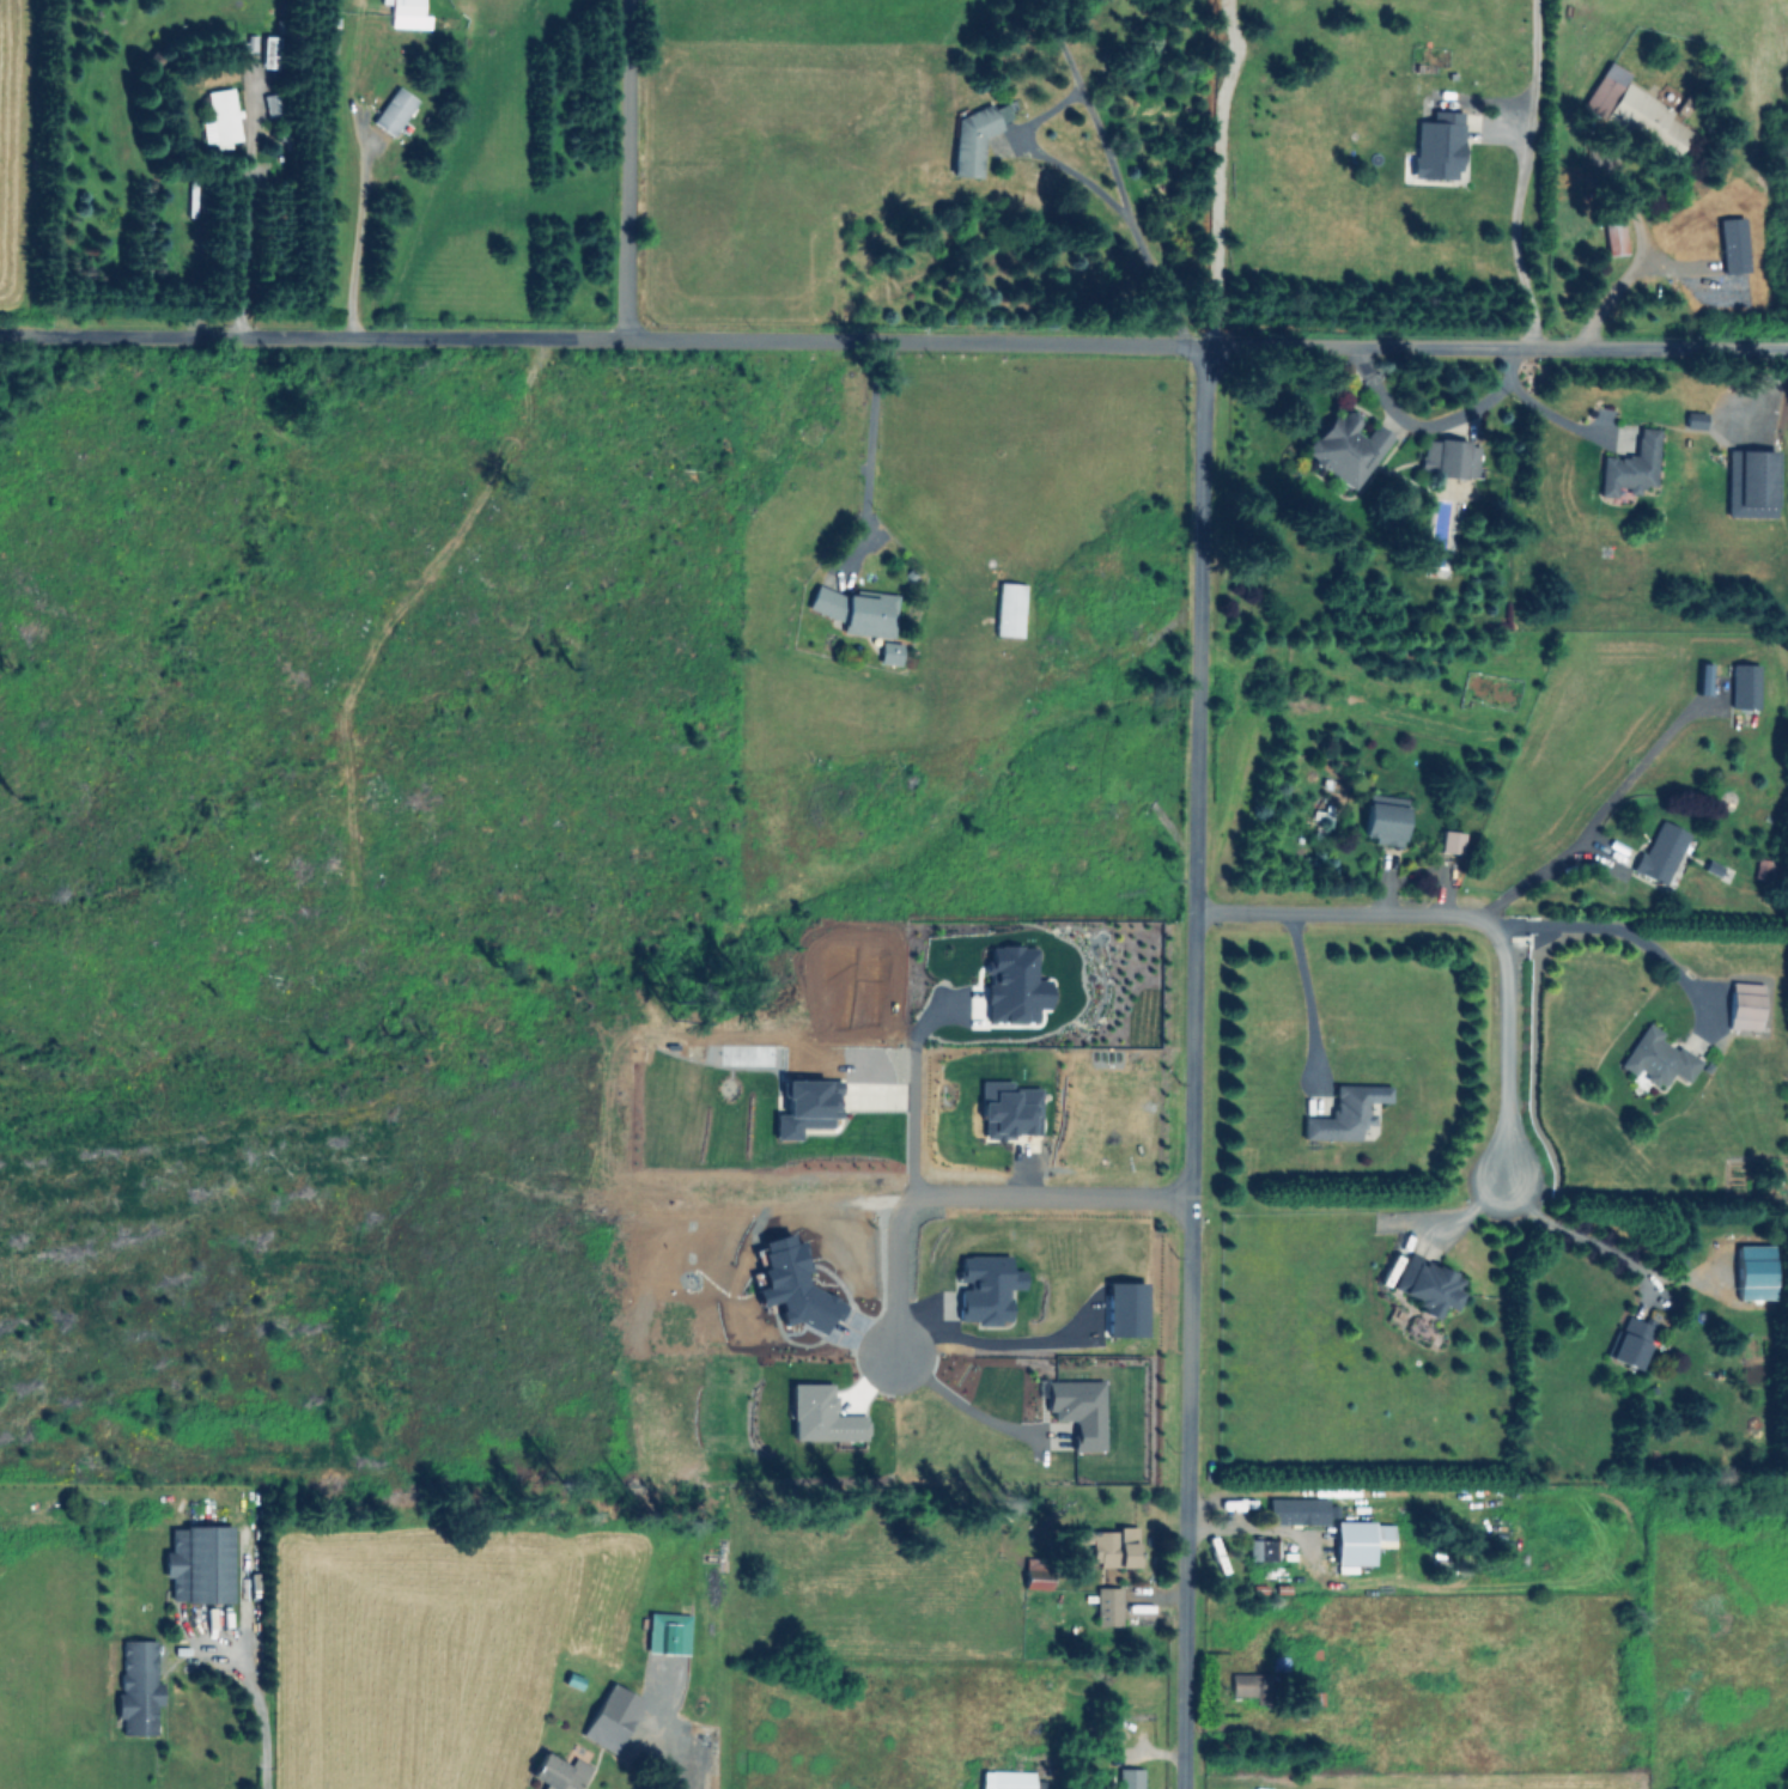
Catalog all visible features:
building: (406, 13)
building: (248, 43)
building: (269, 51)
building: (273, 104)
road: (1088, 105)
building: (393, 110)
building: (1637, 111)
building: (220, 118)
building: (972, 139)
building: (1437, 146)
road: (360, 168)
road: (625, 170)
road: (1520, 174)
road: (1100, 190)
road: (247, 202)
building: (1613, 235)
road: (1631, 266)
road: (894, 341)
road: (1538, 406)
road: (1417, 424)
road: (866, 443)
building: (1345, 448)
building: (1448, 457)
building: (1630, 465)
building: (1750, 482)
building: (1008, 609)
building: (857, 610)
building: (888, 652)
building: (1744, 686)
building: (1383, 822)
building: (1451, 841)
building: (1659, 853)
building: (1765, 870)
road: (1532, 878)
road: (1346, 913)
road: (1625, 931)
building: (1014, 985)
building: (1744, 1005)
road: (1307, 1006)
road: (1508, 1047)
building: (1658, 1058)
road: (1193, 1066)
road: (912, 1089)
building: (805, 1107)
building: (1009, 1109)
building: (1345, 1112)
road: (968, 1193)
road: (1571, 1235)
building: (1753, 1272)
building: (1425, 1285)
building: (986, 1286)
building: (1125, 1308)
building: (1629, 1341)
road: (980, 1343)
road: (961, 1404)
building: (1077, 1411)
building: (820, 1414)
road: (1221, 1504)
building: (1296, 1510)
road: (1224, 1529)
road: (1287, 1531)
building: (1360, 1541)
building: (1111, 1546)
building: (1261, 1550)
building: (199, 1564)
building: (1107, 1606)
building: (667, 1632)
building: (1249, 1686)
building: (136, 1687)
road: (256, 1703)
building: (606, 1727)
road: (694, 1769)
building: (558, 1772)
building: (1129, 1778)
building: (1005, 1779)

